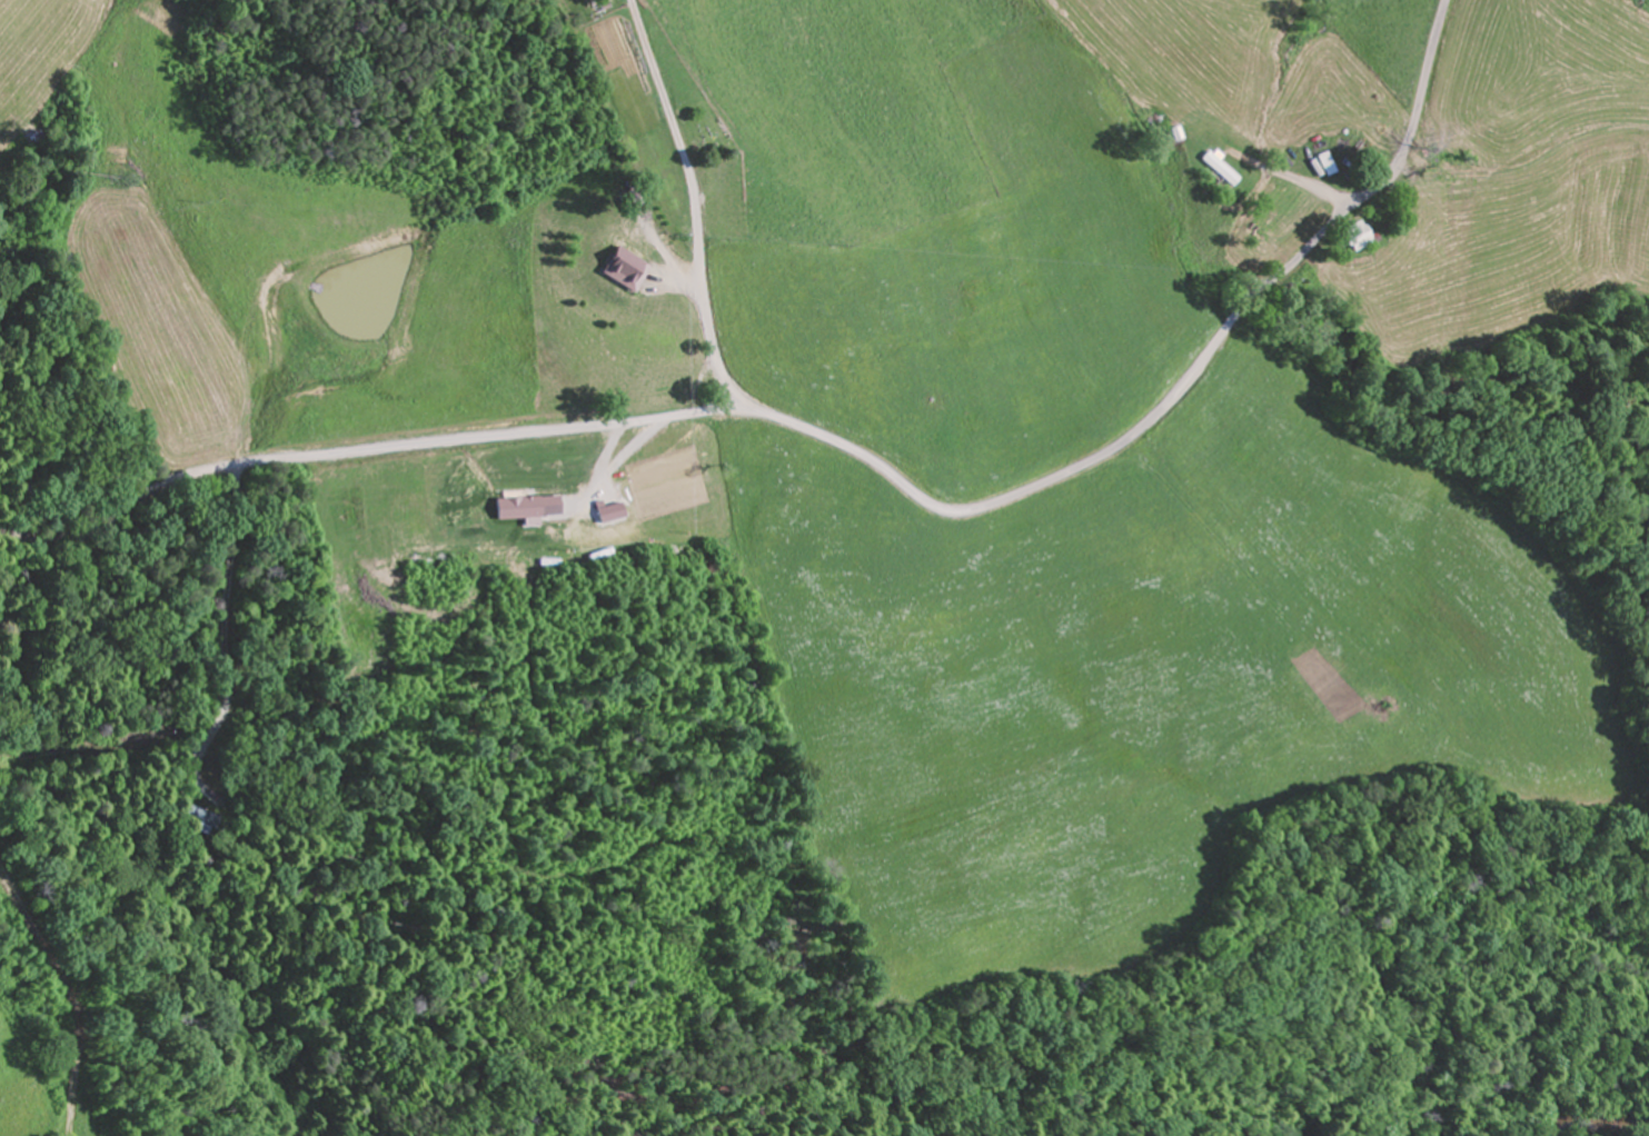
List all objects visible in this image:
building: (1221, 168)
road: (701, 209)
building: (1359, 236)
building: (627, 269)
road: (1178, 387)
road: (367, 452)
road: (68, 997)

